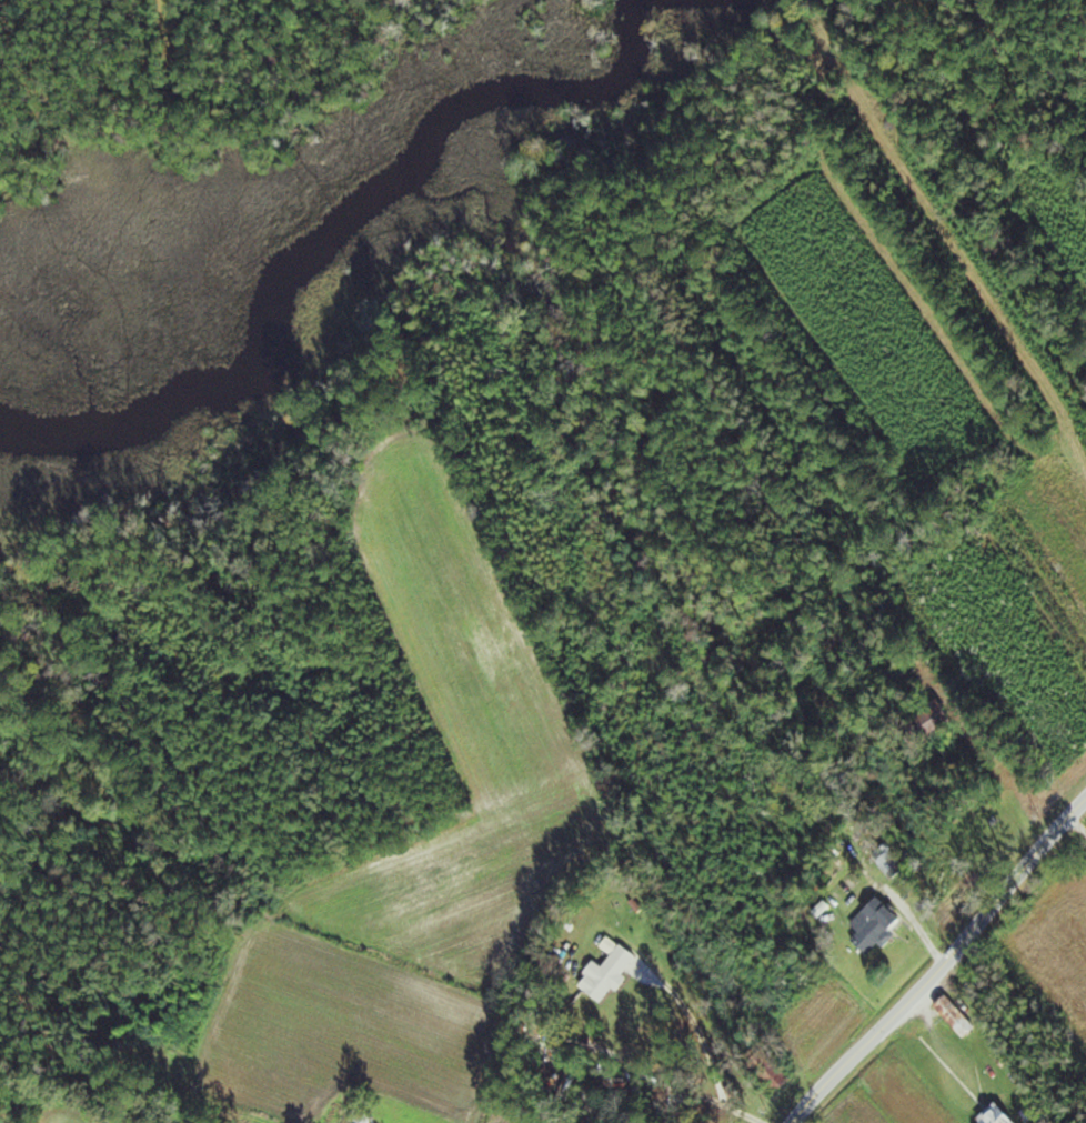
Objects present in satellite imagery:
road: (1082, 824)
building: (878, 924)
road: (946, 969)
building: (613, 970)
building: (958, 1016)
building: (1000, 1114)

